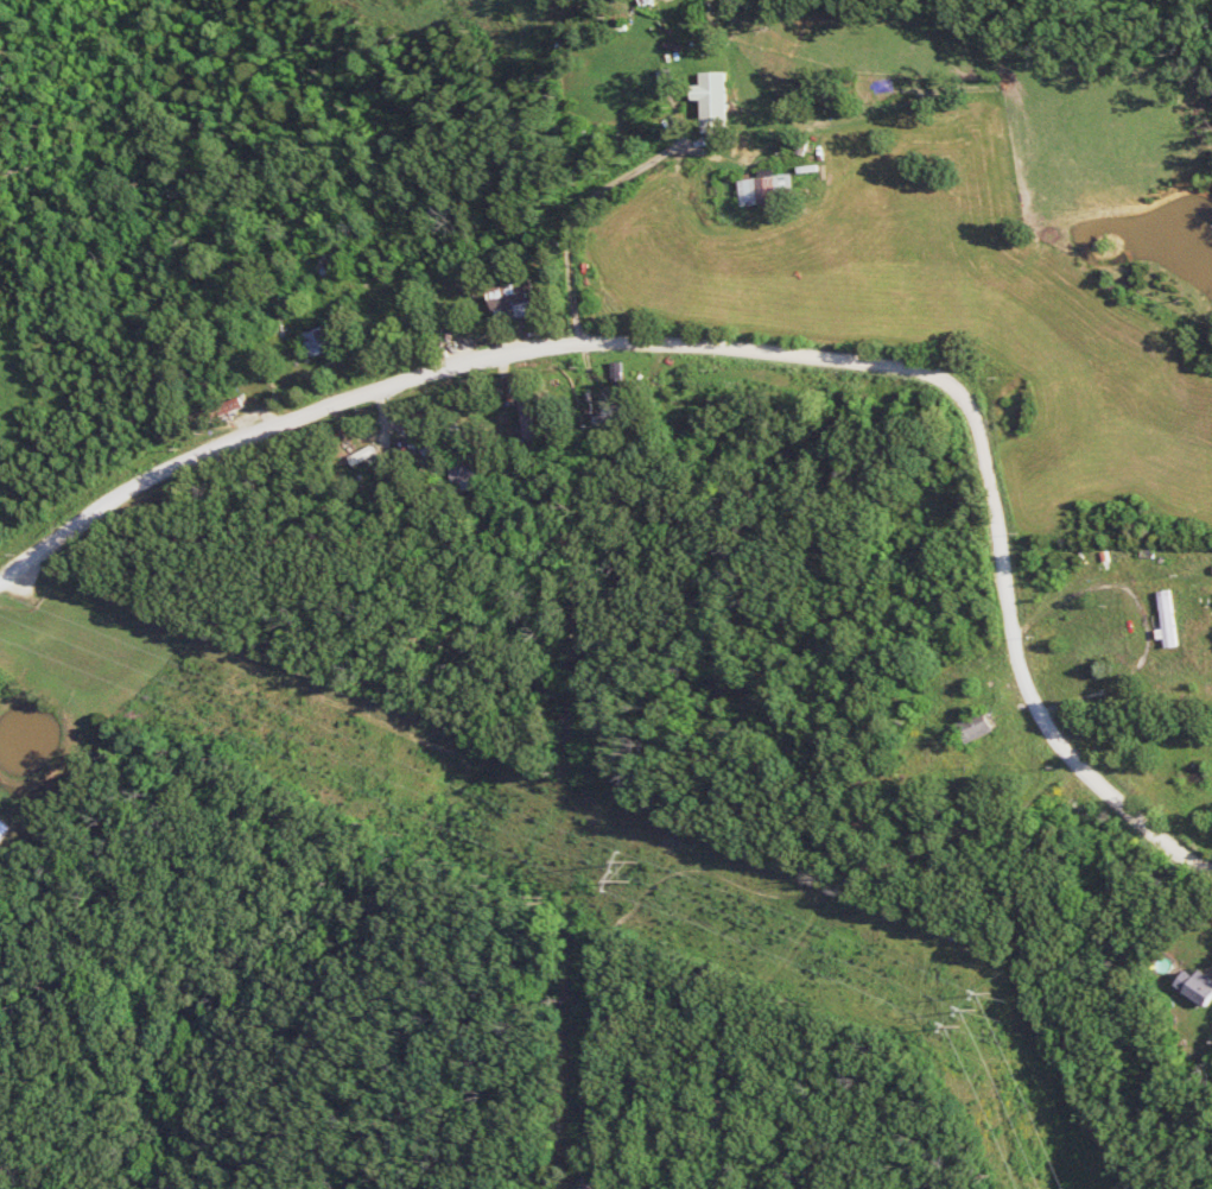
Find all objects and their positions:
building: (718, 100)
road: (645, 170)
building: (774, 190)
building: (520, 301)
building: (326, 342)
road: (736, 349)
road: (1144, 615)
building: (981, 728)
building: (5, 830)
power tower: (640, 872)
building: (1199, 985)
power tower: (979, 1012)

